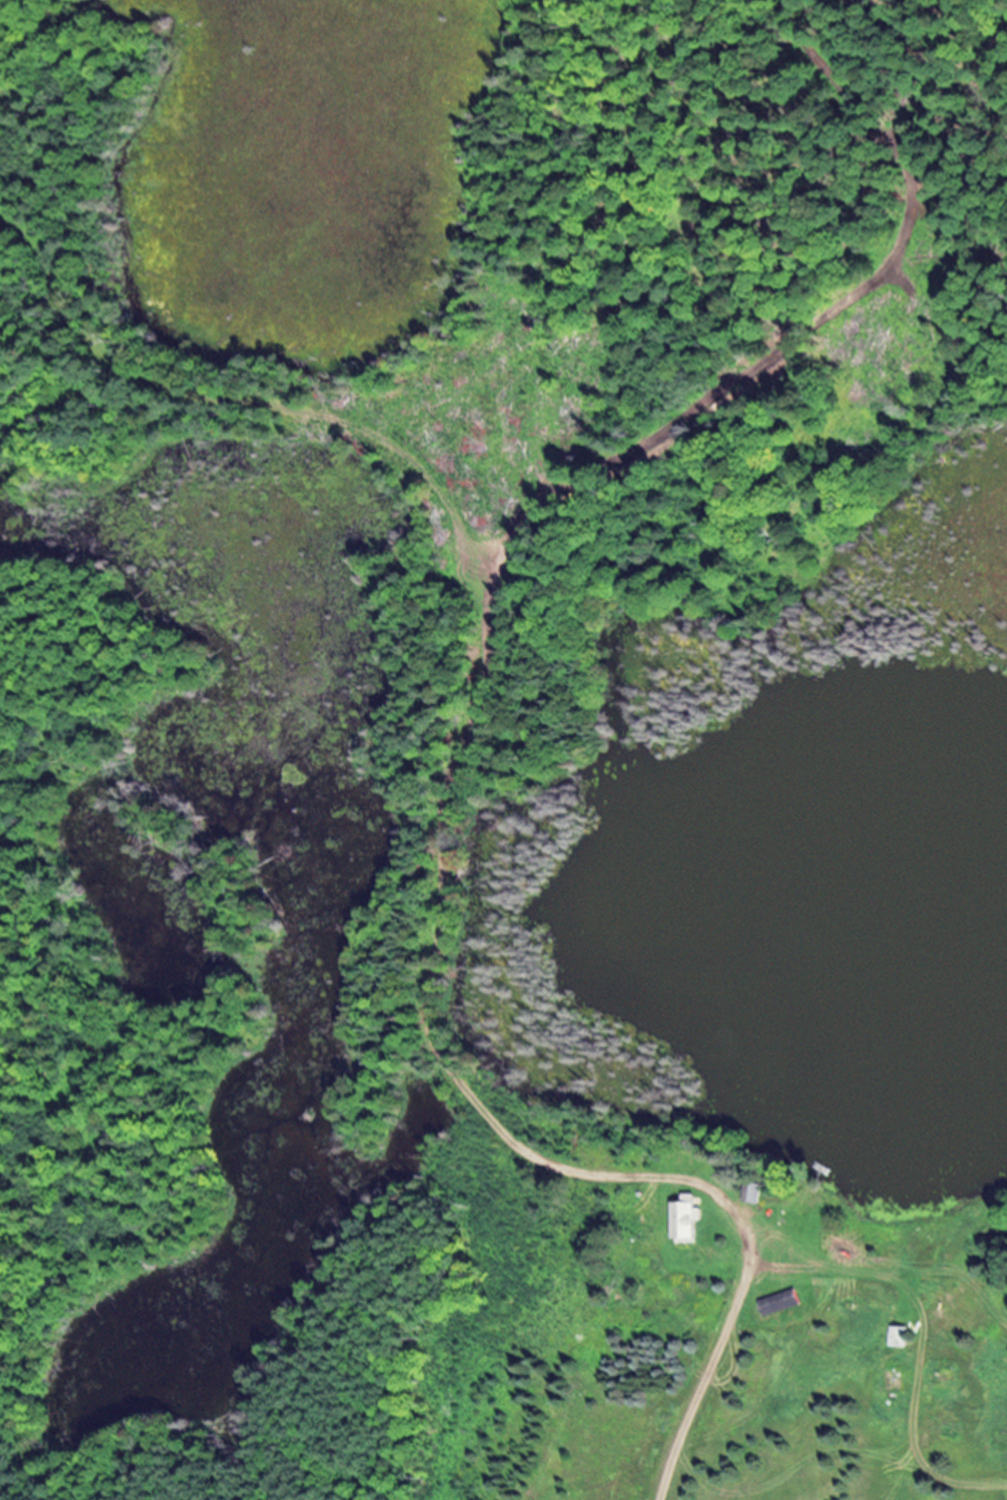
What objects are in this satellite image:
building: (756, 1192)
building: (689, 1220)
building: (783, 1302)
building: (947, 1319)
building: (900, 1336)
road: (696, 1398)

